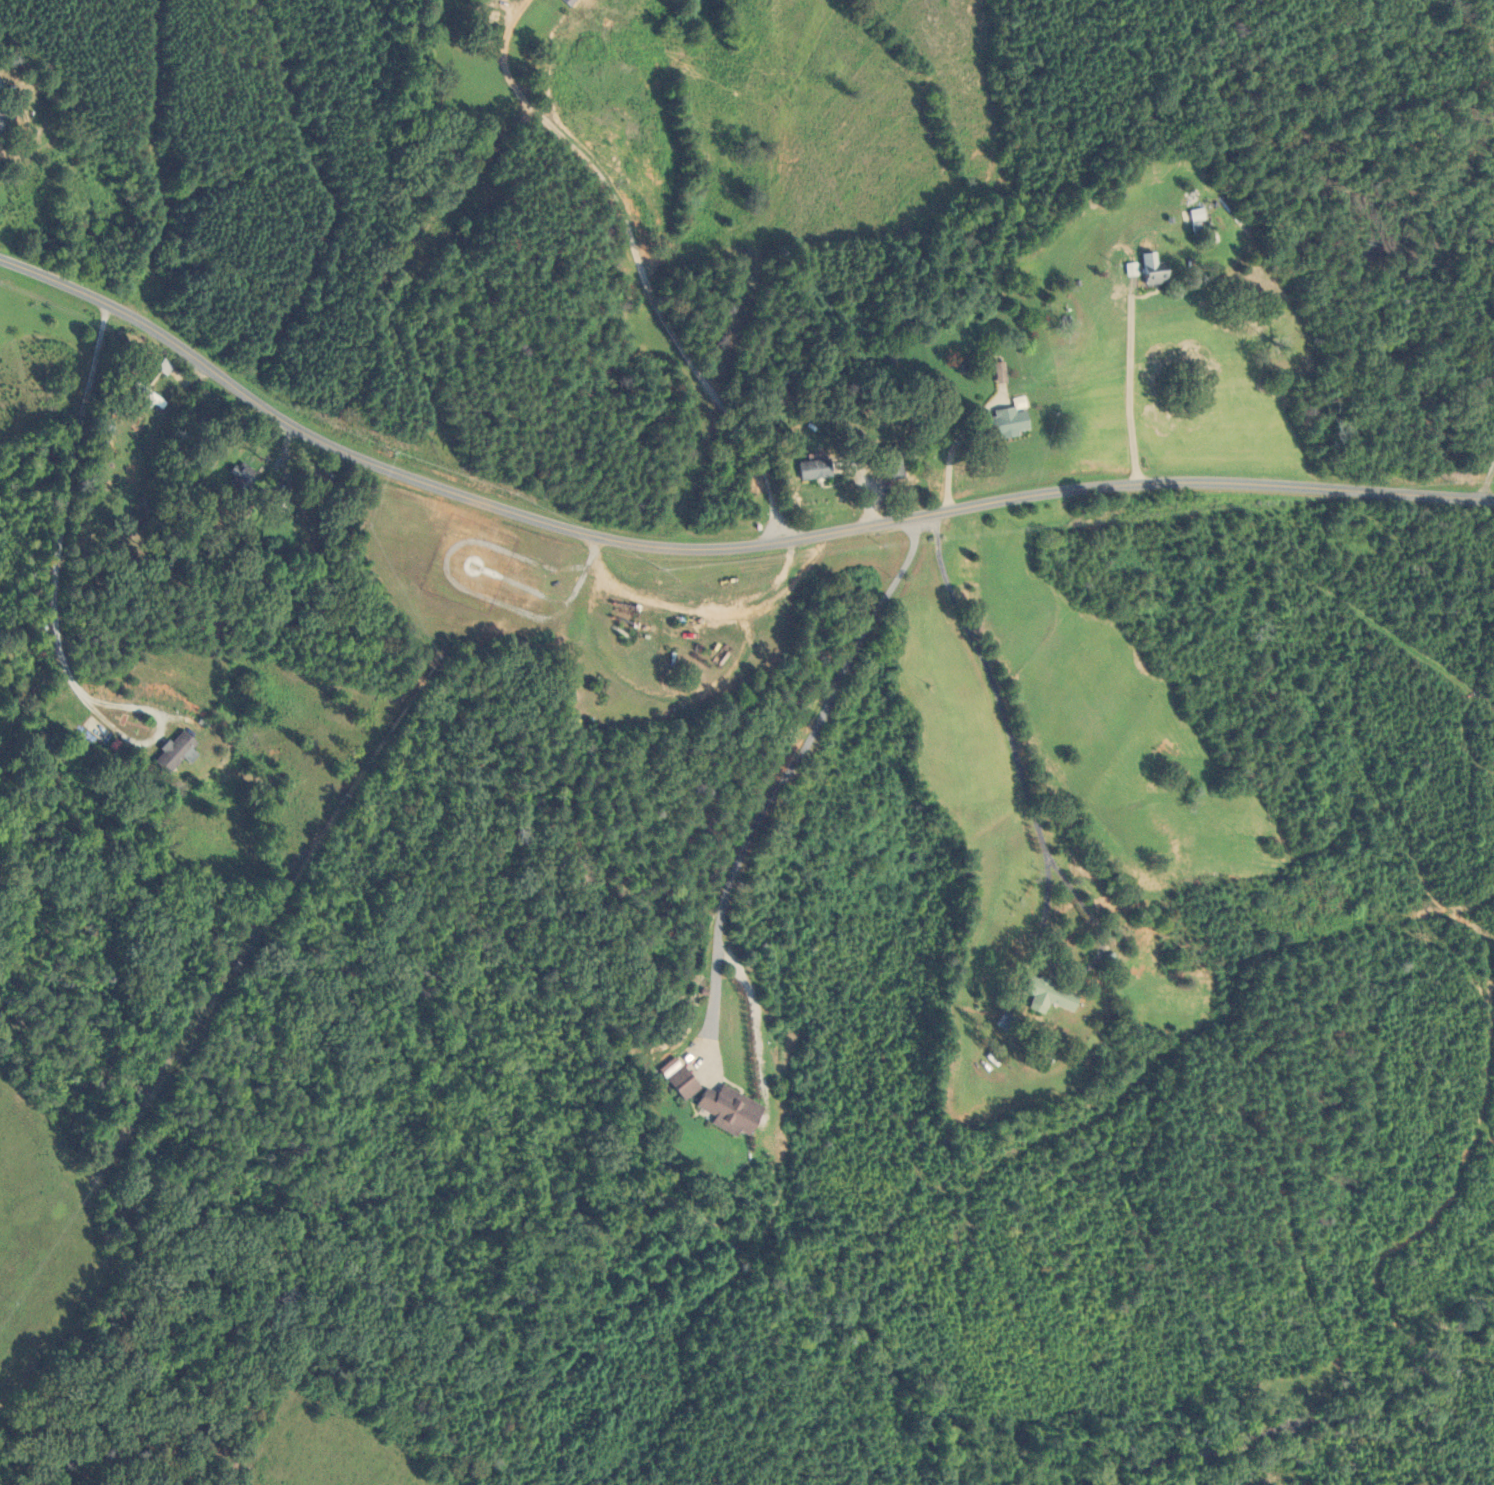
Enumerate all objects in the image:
building: (5, 118)
building: (1196, 214)
road: (640, 264)
building: (1155, 276)
building: (165, 367)
building: (1000, 373)
road: (1130, 388)
building: (148, 395)
building: (1008, 421)
building: (892, 463)
building: (815, 469)
building: (241, 477)
road: (1489, 479)
building: (312, 481)
road: (788, 521)
road: (716, 547)
road: (54, 596)
building: (174, 752)
road: (782, 781)
road: (1034, 815)
building: (1048, 996)
building: (682, 1083)
building: (728, 1111)

